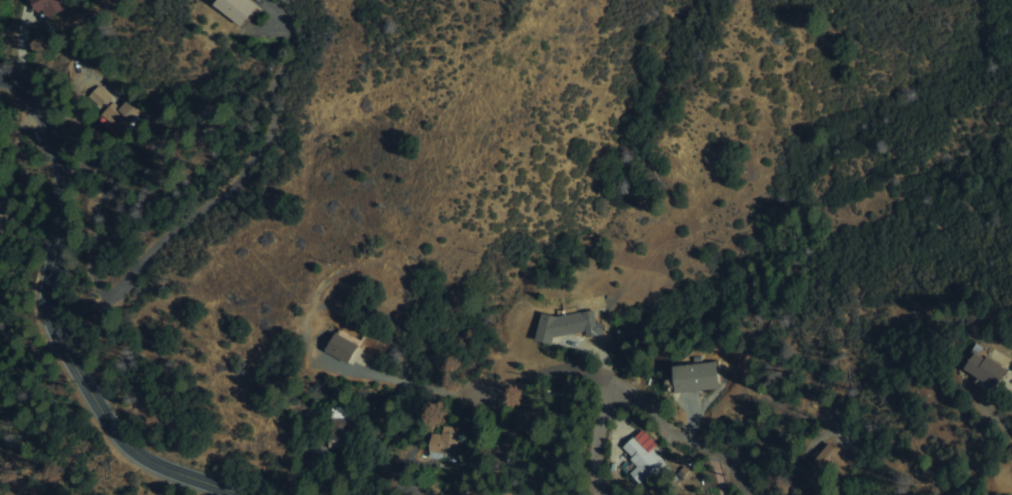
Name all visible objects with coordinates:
building: (48, 6)
building: (236, 8)
building: (111, 107)
road: (46, 321)
building: (566, 325)
building: (631, 334)
road: (1008, 362)
building: (985, 369)
road: (542, 370)
building: (695, 376)
building: (340, 427)
road: (688, 434)
road: (595, 439)
building: (443, 441)
building: (640, 459)
building: (831, 460)

